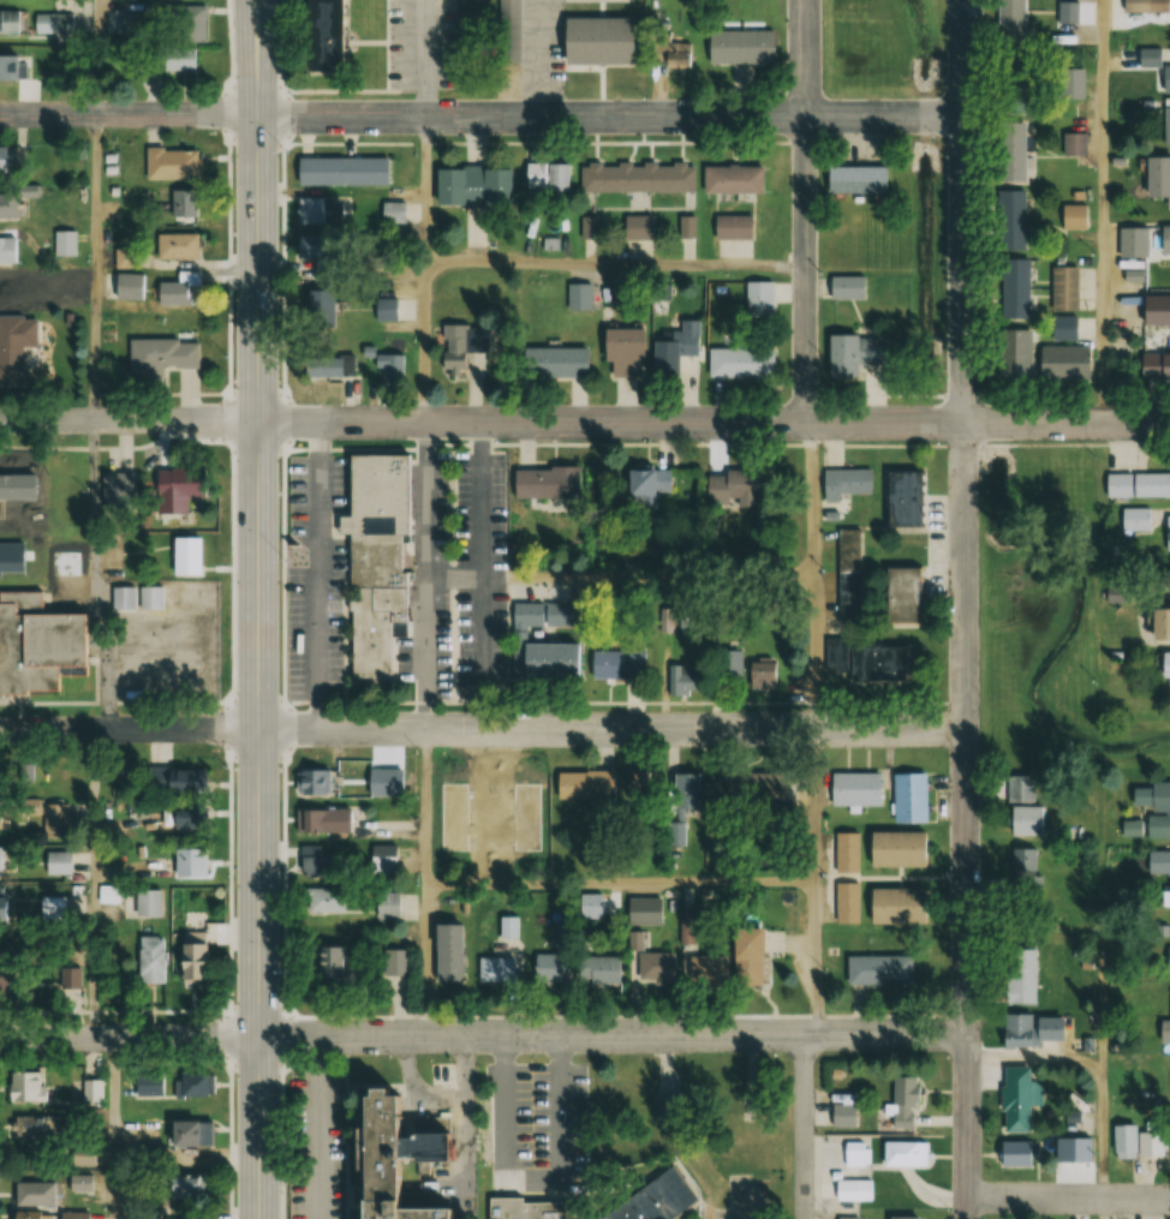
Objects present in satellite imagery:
building: (1067, 12)
building: (1010, 19)
building: (11, 20)
building: (53, 22)
building: (129, 24)
building: (185, 29)
building: (509, 30)
building: (327, 34)
building: (596, 40)
building: (739, 46)
building: (673, 52)
road: (95, 58)
building: (175, 59)
road: (425, 59)
building: (12, 66)
building: (1011, 82)
building: (1070, 83)
road: (480, 118)
building: (1165, 125)
building: (1074, 144)
building: (1010, 151)
building: (171, 163)
building: (341, 172)
building: (544, 177)
building: (635, 177)
building: (729, 178)
building: (853, 178)
building: (1157, 178)
building: (471, 186)
road: (425, 191)
building: (183, 203)
building: (7, 205)
building: (315, 210)
road: (805, 211)
road: (1102, 211)
building: (390, 214)
building: (1073, 216)
building: (1011, 219)
building: (635, 226)
building: (686, 226)
building: (732, 226)
building: (587, 227)
building: (1160, 238)
building: (1132, 241)
building: (65, 243)
building: (177, 246)
building: (7, 249)
building: (127, 259)
road: (615, 264)
road: (95, 269)
building: (126, 286)
building: (846, 286)
building: (1013, 287)
building: (1063, 287)
building: (10, 288)
building: (178, 288)
building: (579, 297)
building: (758, 300)
building: (386, 309)
building: (1154, 309)
building: (1063, 327)
road: (425, 343)
building: (14, 346)
building: (460, 346)
building: (673, 348)
building: (620, 351)
building: (852, 353)
building: (1014, 353)
building: (163, 354)
building: (739, 361)
building: (1062, 361)
building: (554, 363)
building: (387, 365)
building: (324, 366)
building: (1154, 366)
road: (584, 423)
building: (543, 482)
building: (644, 483)
building: (843, 483)
building: (1136, 485)
building: (736, 488)
building: (173, 491)
building: (901, 497)
road: (96, 500)
building: (1135, 520)
building: (1166, 533)
building: (185, 556)
building: (376, 561)
road: (816, 575)
building: (847, 575)
road: (425, 576)
building: (899, 593)
building: (124, 597)
building: (151, 597)
road: (259, 609)
road: (965, 609)
building: (548, 614)
building: (1158, 625)
building: (32, 651)
road: (107, 652)
building: (541, 659)
building: (860, 661)
building: (616, 664)
building: (729, 664)
building: (760, 674)
building: (1164, 676)
building: (682, 681)
road: (482, 729)
building: (168, 779)
building: (314, 782)
building: (581, 784)
building: (760, 785)
building: (854, 788)
building: (1020, 788)
building: (483, 797)
building: (907, 797)
building: (679, 803)
road: (817, 806)
road: (426, 807)
building: (1158, 809)
building: (1, 815)
building: (46, 815)
building: (179, 818)
building: (1023, 820)
building: (322, 821)
building: (894, 848)
building: (846, 851)
building: (312, 860)
building: (1021, 861)
building: (56, 862)
building: (180, 864)
building: (1169, 879)
road: (95, 883)
road: (622, 884)
building: (322, 900)
building: (2, 902)
building: (846, 902)
building: (147, 903)
building: (386, 904)
building: (894, 906)
building: (52, 907)
building: (643, 910)
building: (686, 922)
building: (502, 925)
building: (1168, 949)
building: (744, 956)
road: (816, 958)
building: (150, 960)
road: (428, 961)
building: (191, 963)
building: (328, 967)
building: (651, 967)
building: (545, 968)
building: (495, 969)
building: (597, 969)
building: (876, 969)
building: (5, 970)
building: (709, 970)
building: (1020, 975)
building: (72, 981)
building: (1027, 1029)
road: (483, 1035)
building: (1164, 1038)
road: (1103, 1066)
building: (172, 1084)
building: (26, 1086)
building: (92, 1092)
building: (1014, 1099)
building: (902, 1104)
building: (842, 1115)
parking lot: (542, 1123)
road: (804, 1127)
road: (115, 1128)
building: (34, 1129)
building: (179, 1134)
building: (1136, 1141)
parking lot: (320, 1145)
building: (903, 1152)
building: (855, 1153)
building: (1014, 1153)
building: (384, 1154)
building: (82, 1155)
building: (79, 1183)
building: (181, 1185)
building: (852, 1190)
building: (31, 1194)
building: (650, 1200)
road: (1068, 1200)
building: (523, 1208)
road: (1104, 1209)
building: (71, 1215)
building: (847, 1218)
building: (902, 1218)

